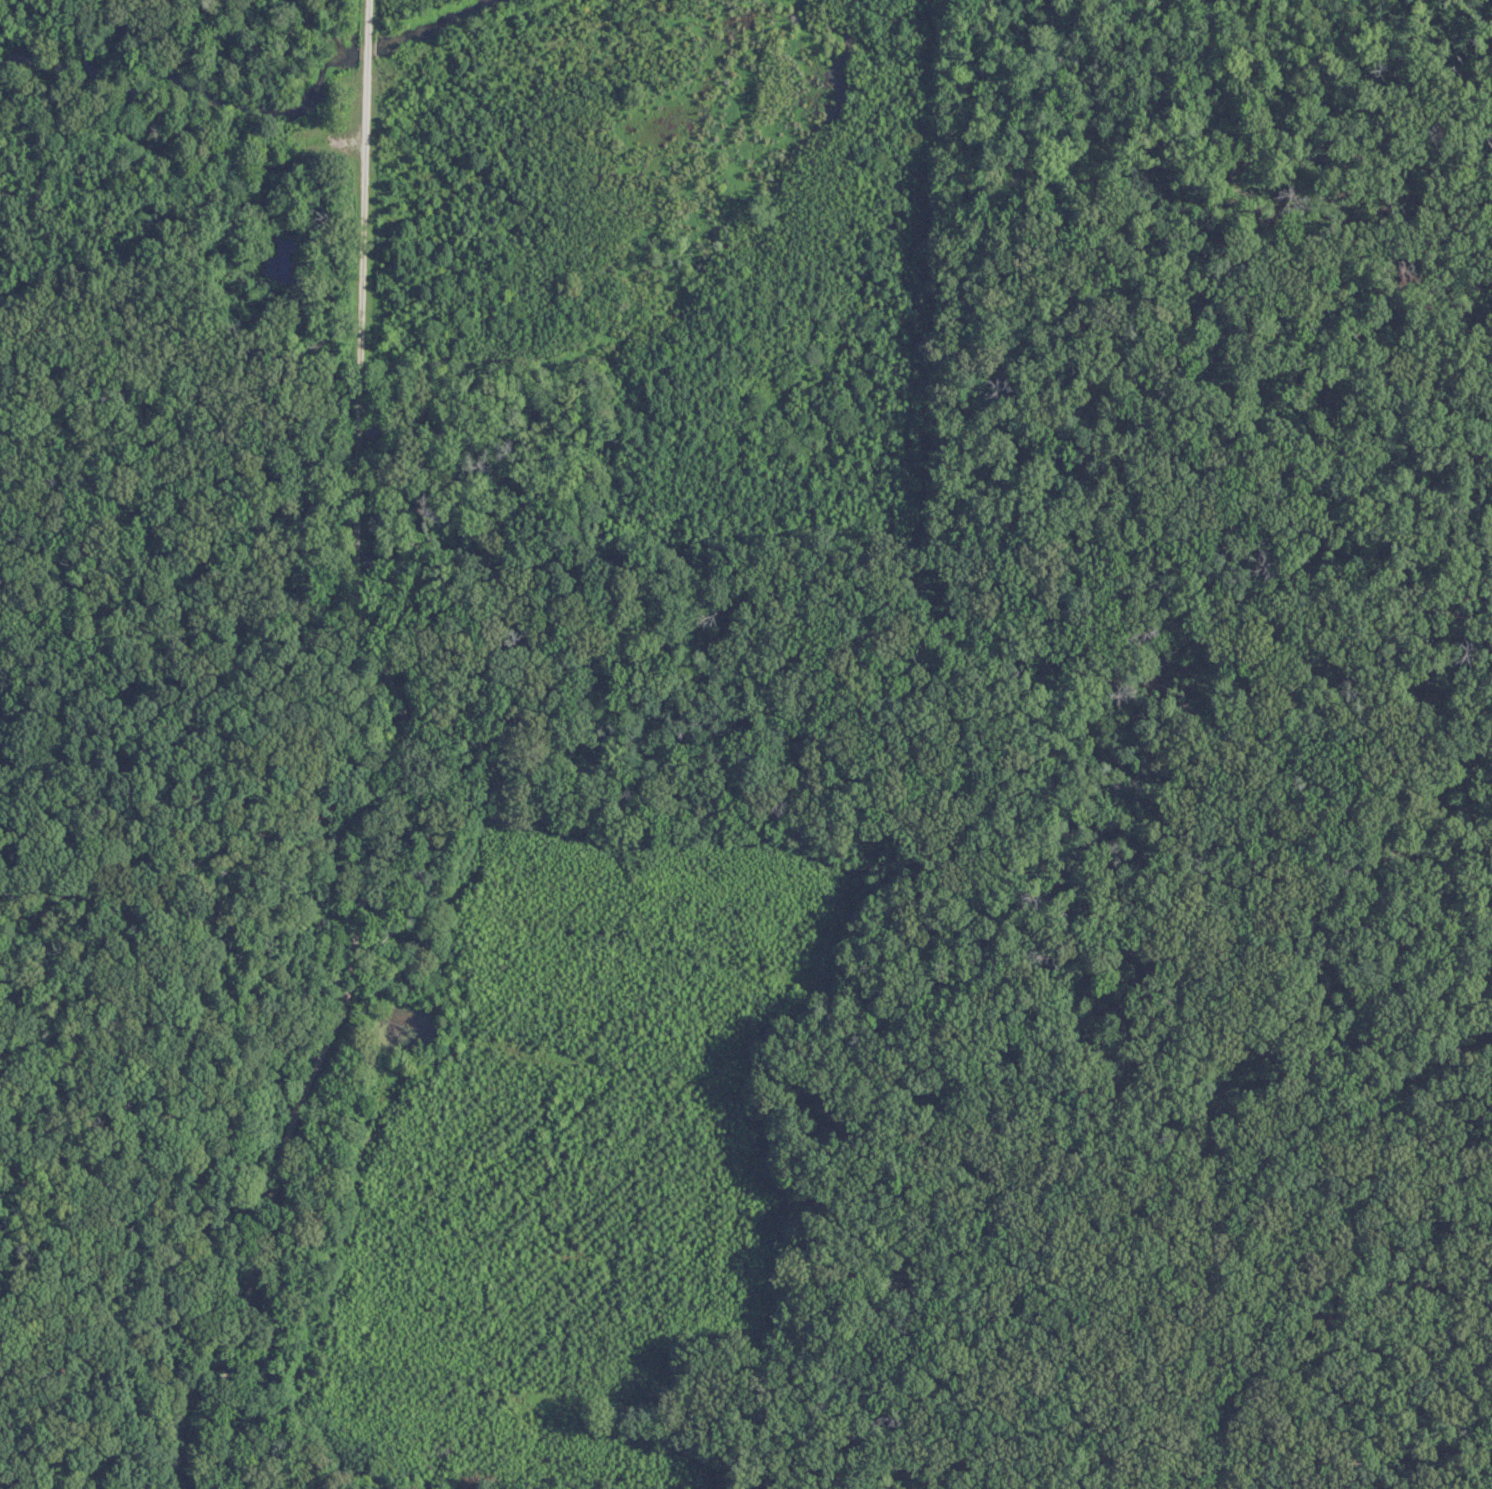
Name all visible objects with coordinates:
road: (364, 766)

